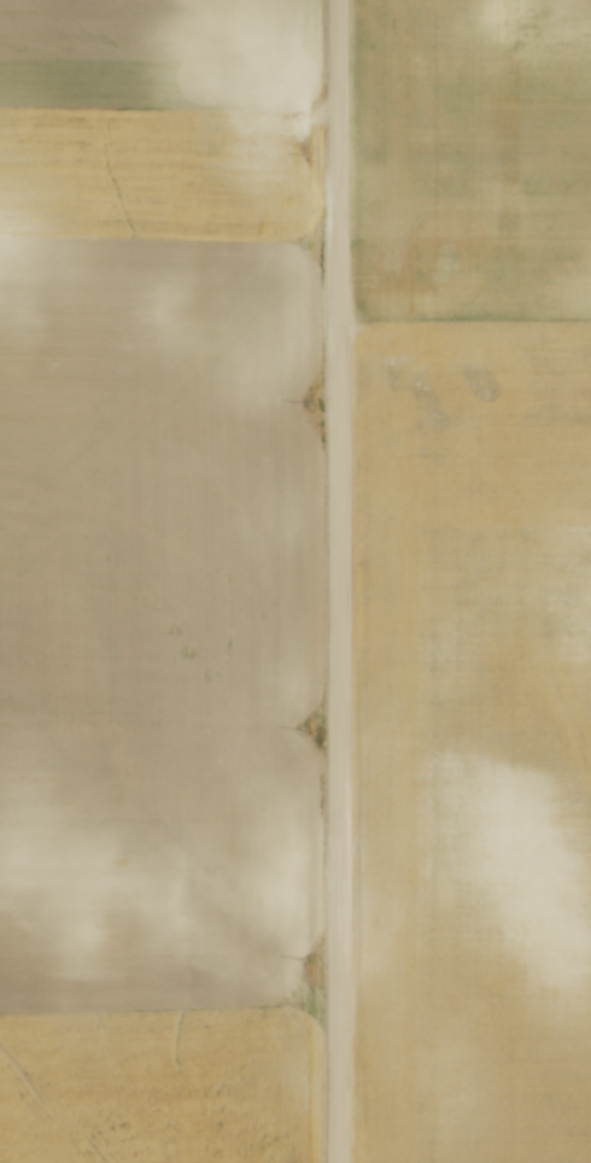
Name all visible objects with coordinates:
crop: (158, 579)
road: (338, 581)
crop: (475, 584)

